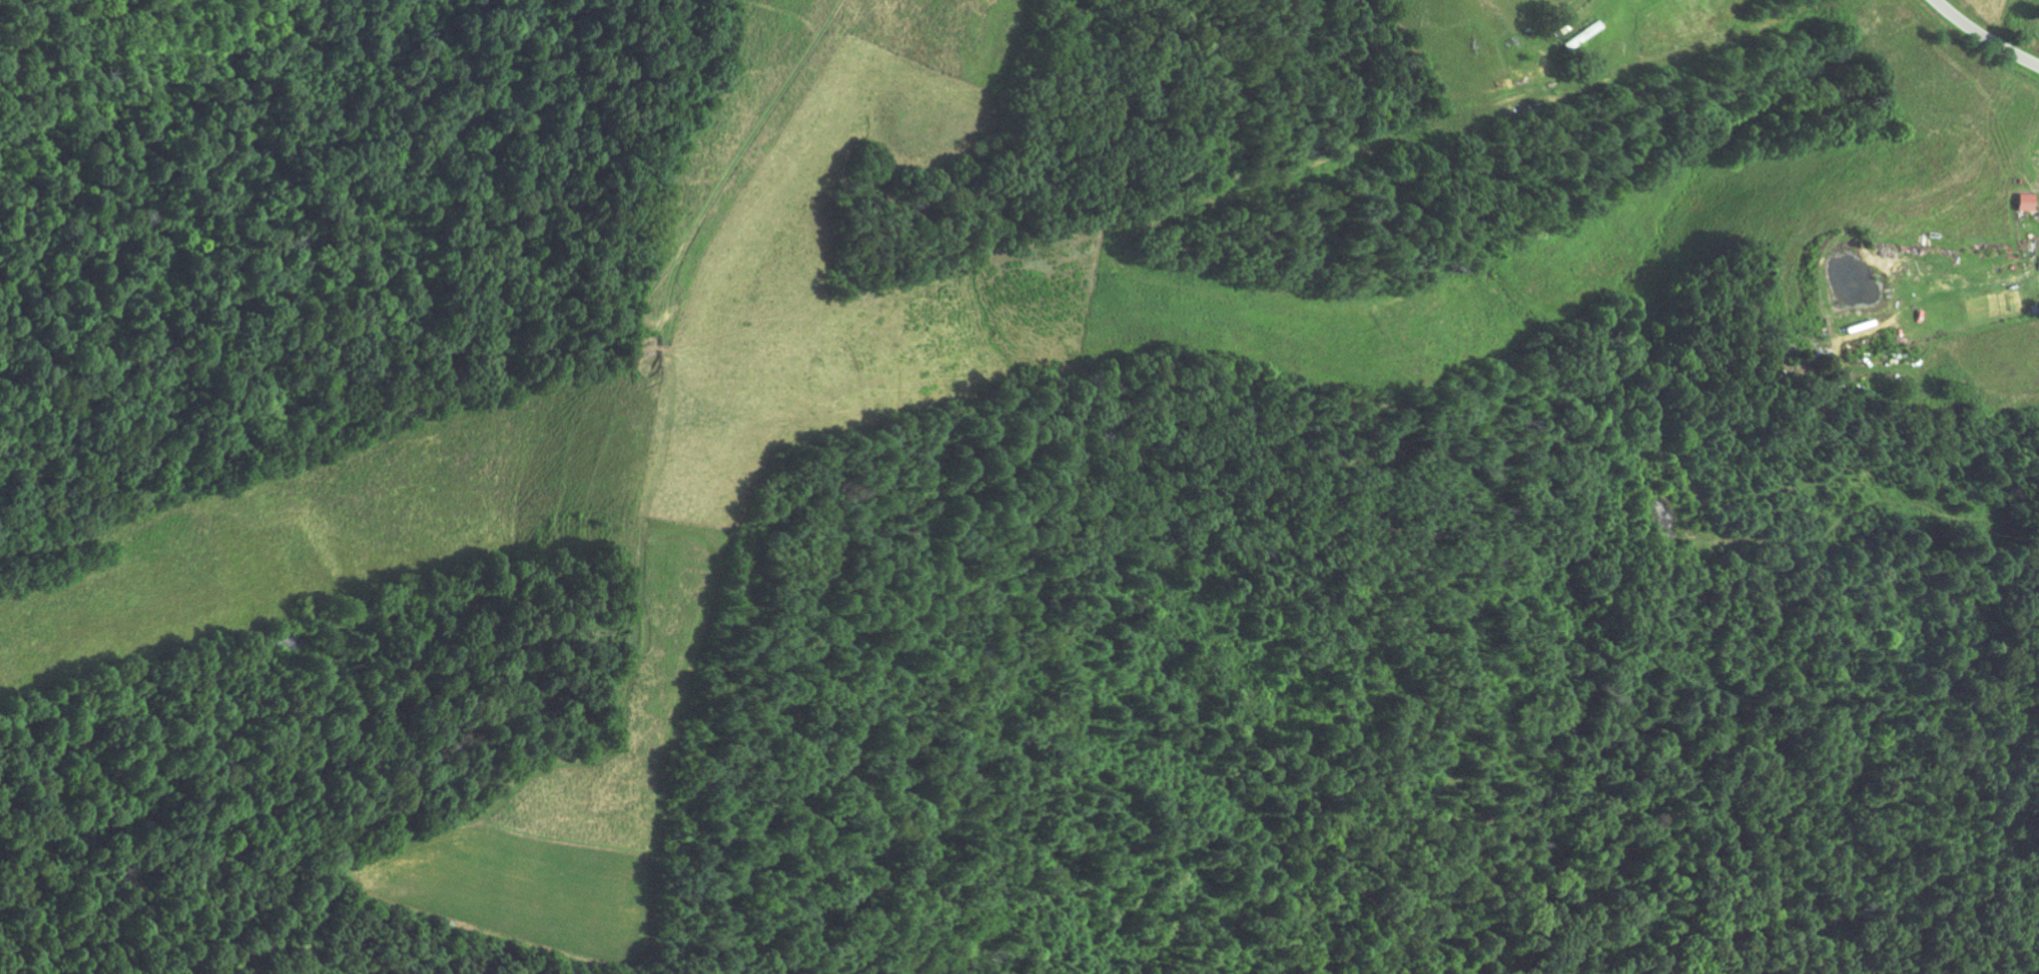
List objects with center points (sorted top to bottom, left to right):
road: (1985, 36)
building: (2028, 201)

